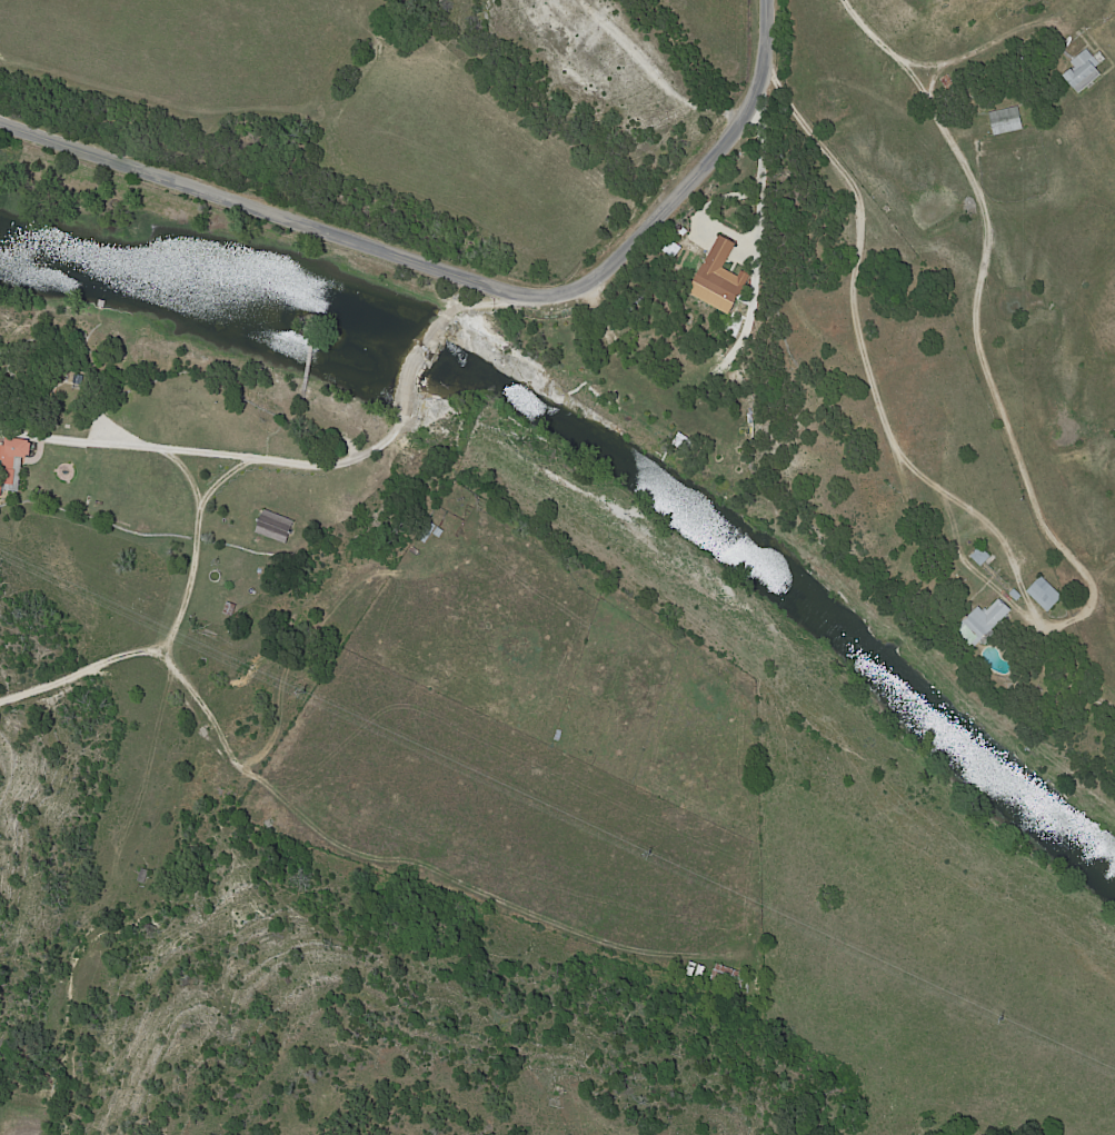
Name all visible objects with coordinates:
road: (765, 61)
building: (1083, 68)
building: (948, 82)
building: (1008, 120)
road: (401, 257)
building: (13, 459)
road: (312, 465)
building: (278, 527)
building: (984, 557)
building: (1047, 595)
road: (1079, 615)
building: (988, 624)
power tower: (306, 693)
power tower: (648, 855)
building: (726, 979)
power tower: (1000, 1020)

